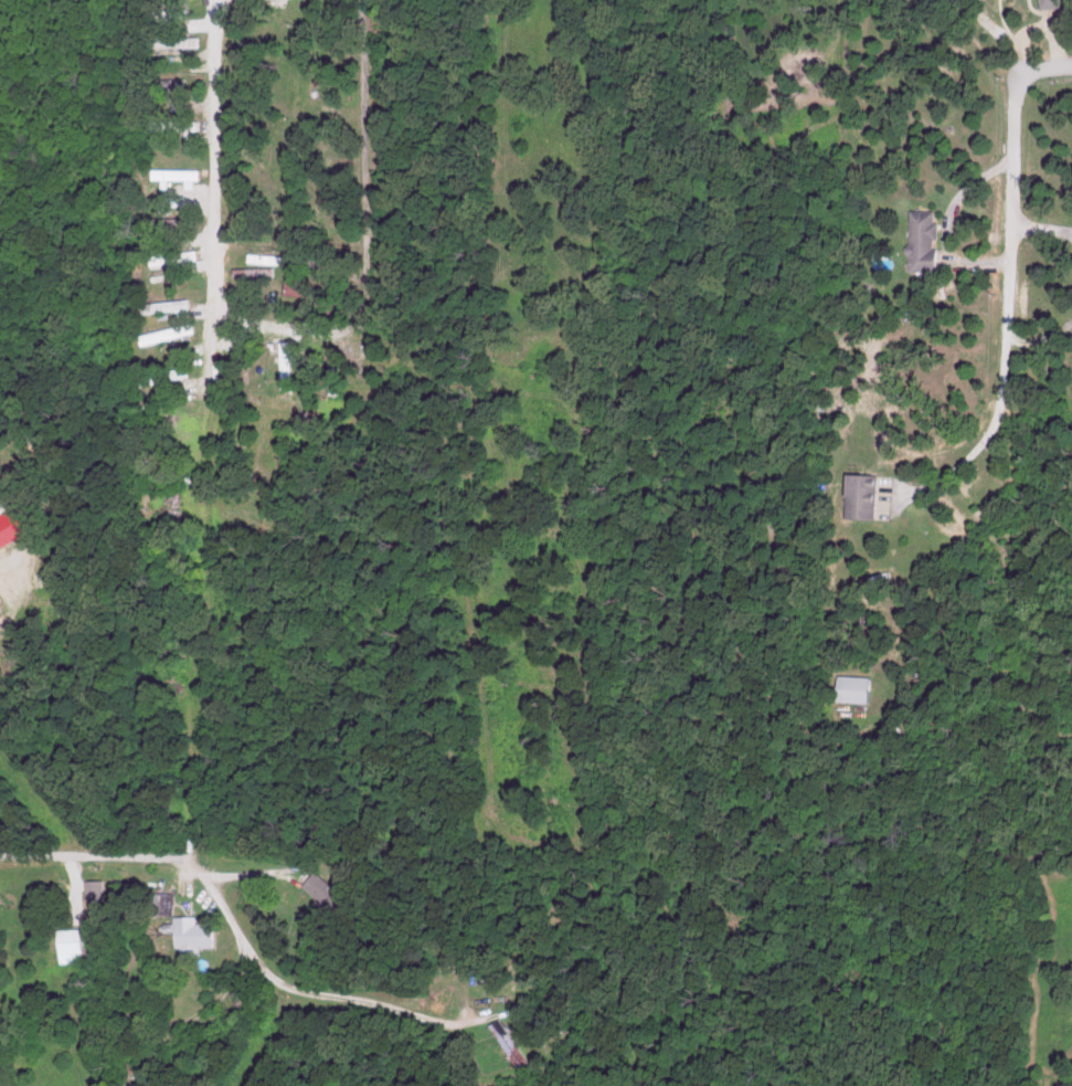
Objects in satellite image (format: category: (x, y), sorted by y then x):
building: (1053, 3)
building: (170, 13)
building: (183, 40)
building: (179, 125)
road: (1013, 141)
road: (215, 161)
building: (179, 173)
building: (926, 240)
building: (177, 256)
building: (299, 287)
building: (172, 306)
building: (169, 333)
building: (290, 362)
building: (170, 373)
road: (999, 407)
building: (867, 495)
building: (13, 528)
building: (1, 605)
building: (857, 687)
road: (94, 862)
road: (18, 887)
building: (98, 889)
building: (328, 889)
building: (197, 934)
building: (74, 943)
road: (283, 987)

